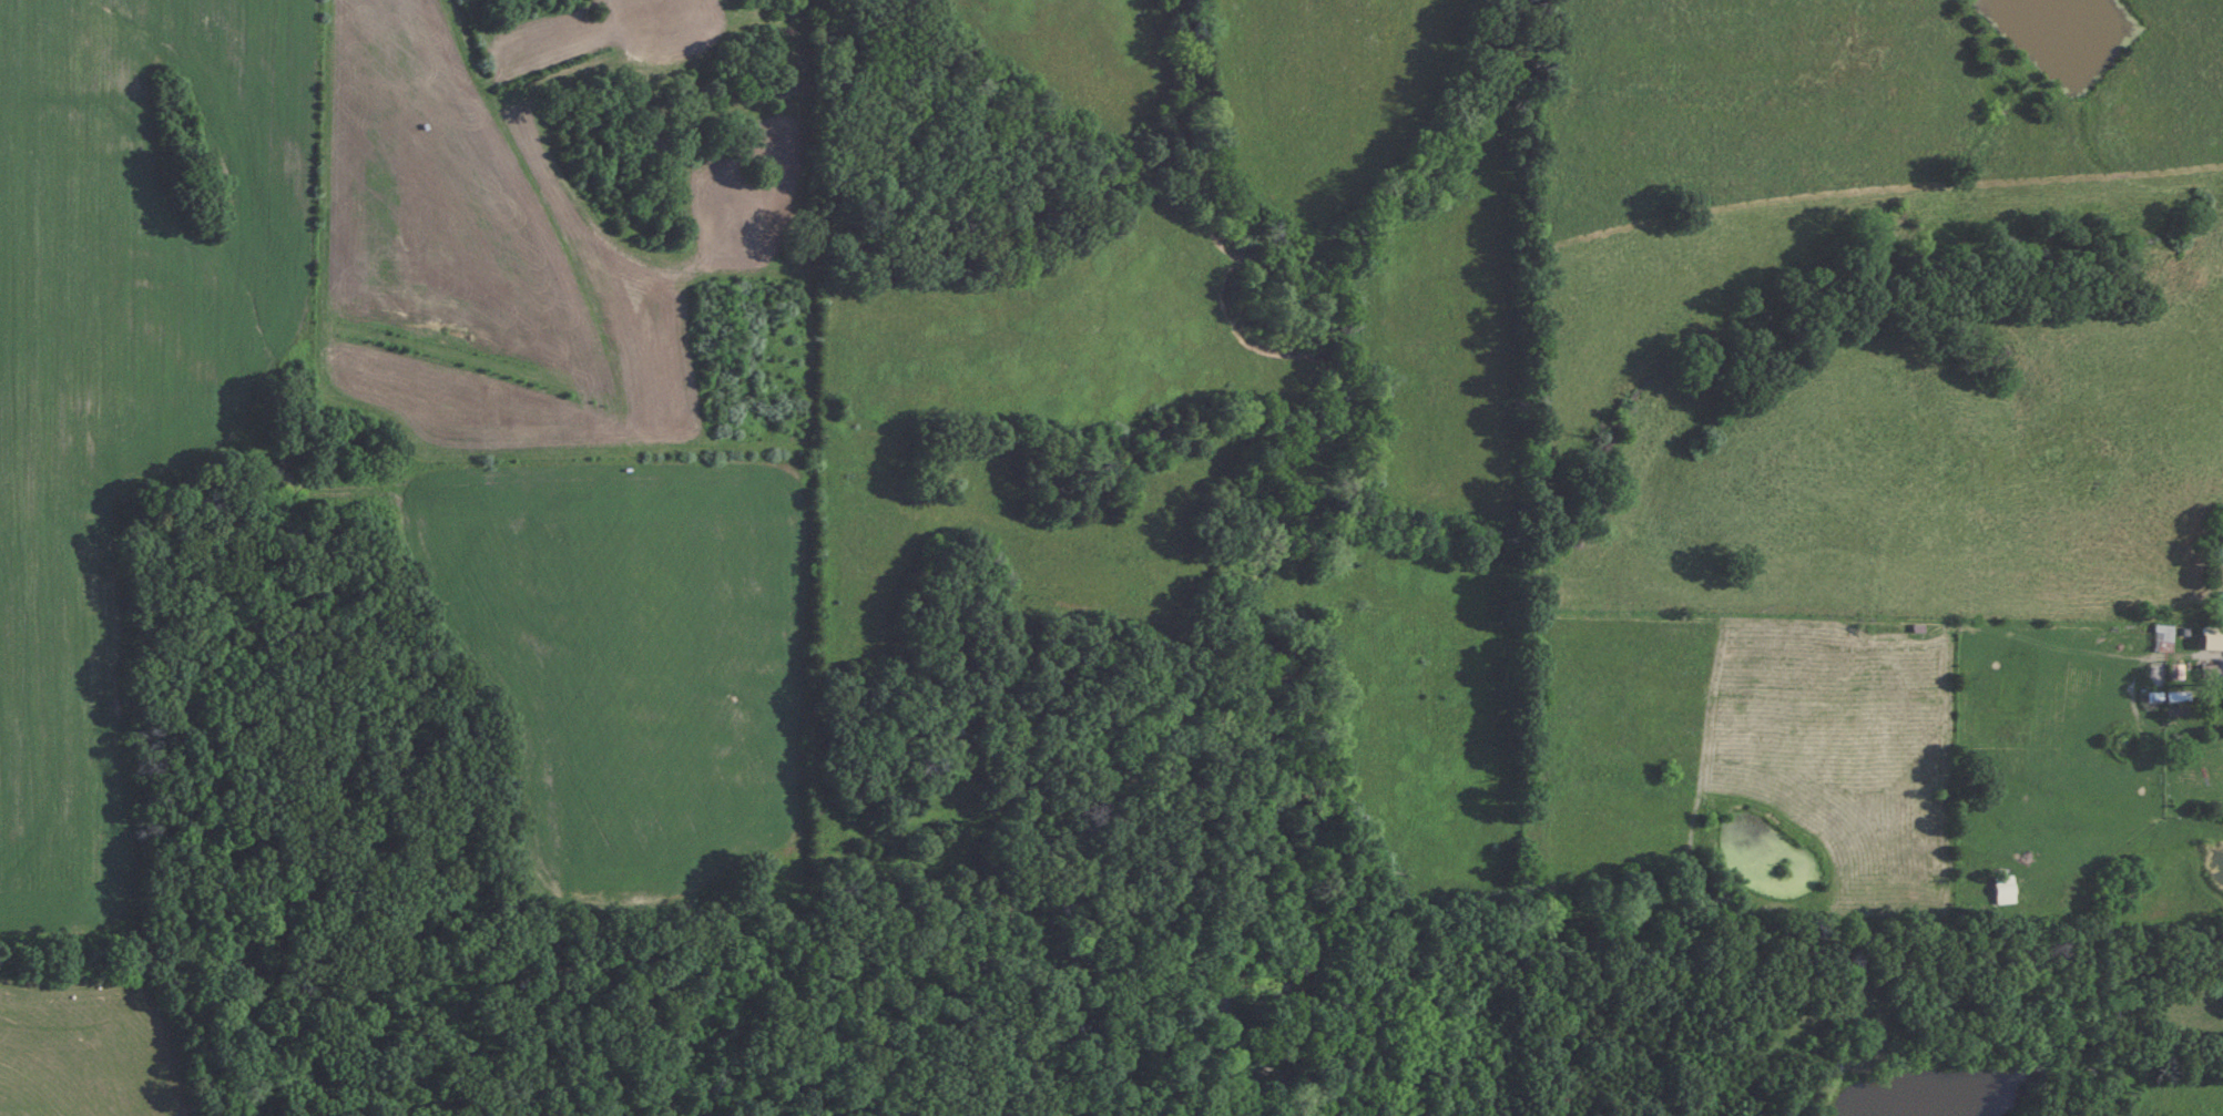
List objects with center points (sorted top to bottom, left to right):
building: (2221, 545)
building: (2221, 606)
building: (2161, 634)
building: (2173, 670)
building: (2207, 673)
building: (2175, 696)
building: (2003, 890)

